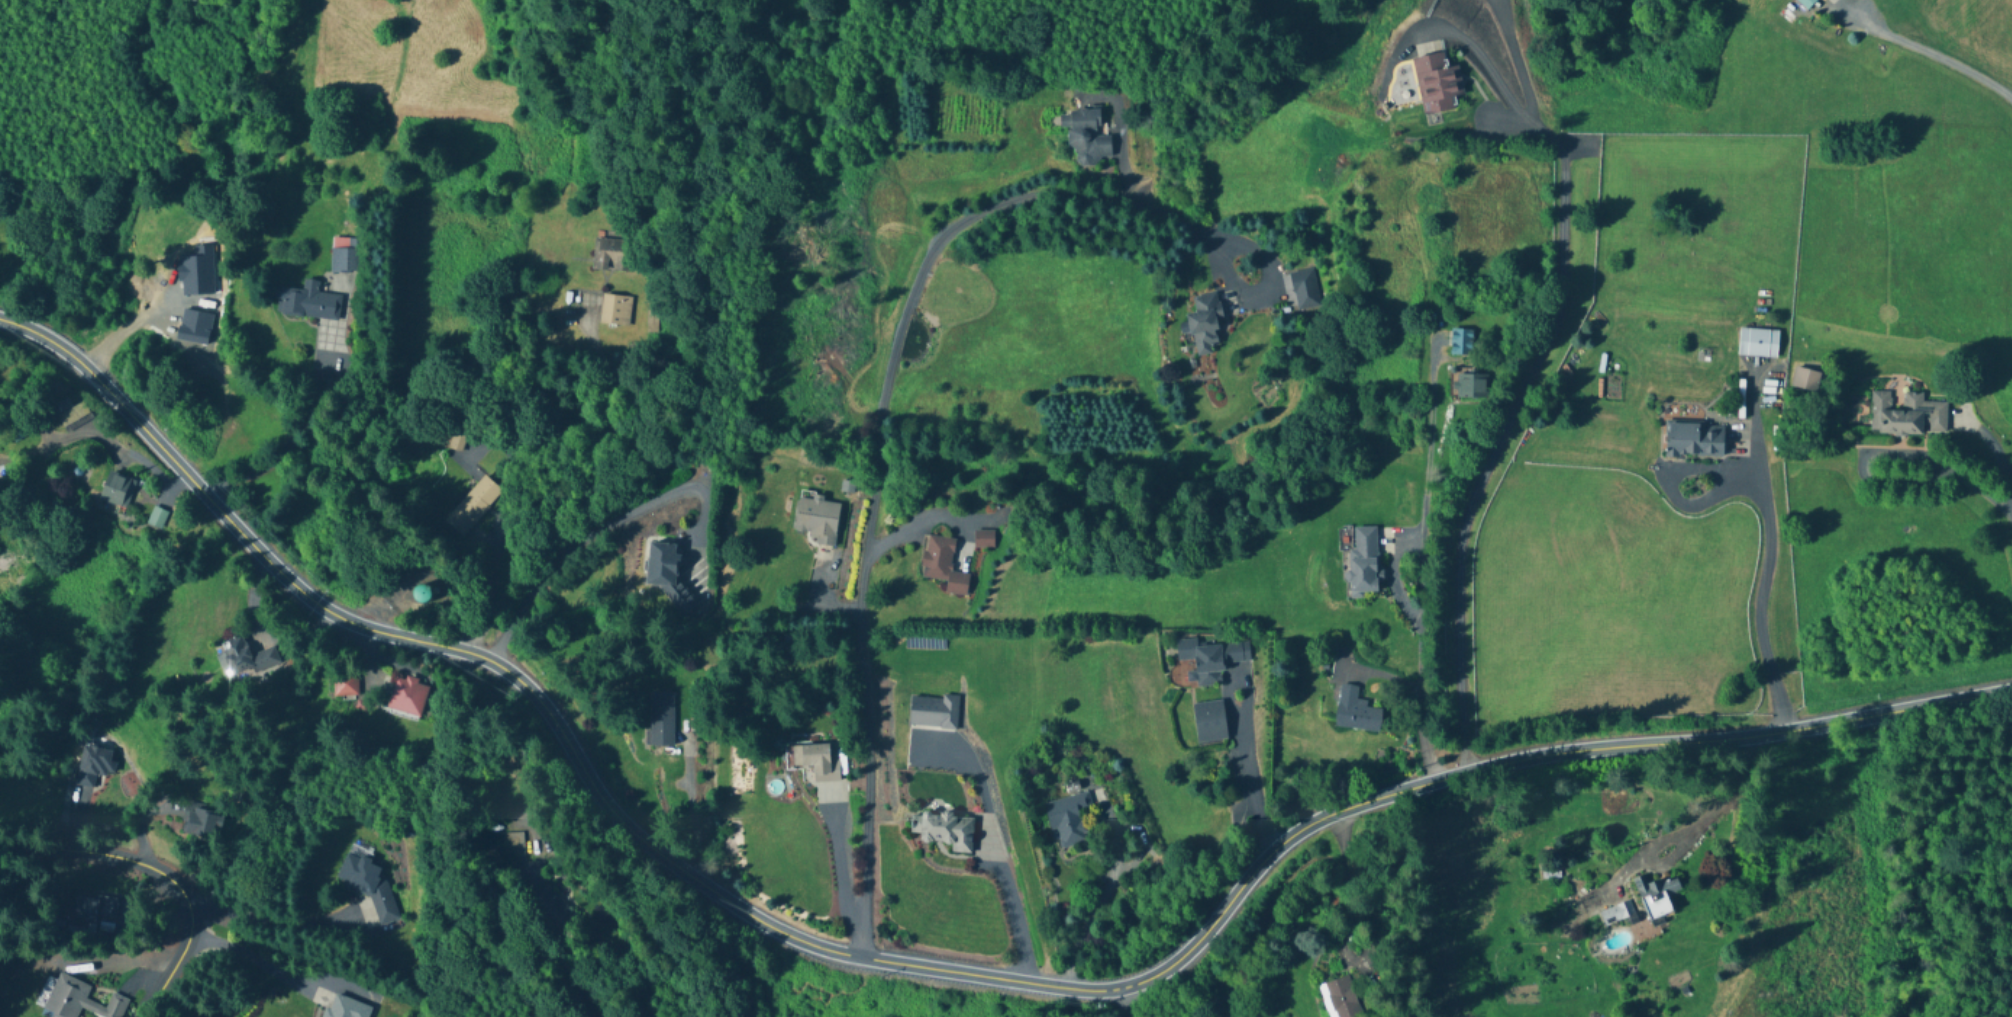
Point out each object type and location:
building: (1805, 2)
road: (1929, 53)
road: (1479, 66)
road: (1516, 70)
building: (1437, 82)
building: (1086, 135)
building: (346, 256)
building: (609, 256)
building: (1300, 290)
building: (307, 302)
building: (614, 310)
building: (1205, 324)
road: (122, 325)
building: (1461, 342)
building: (1757, 343)
building: (1805, 380)
building: (1470, 385)
building: (71, 414)
building: (1907, 415)
road: (1509, 419)
road: (293, 433)
building: (1694, 439)
road: (1998, 455)
road: (876, 459)
road: (1868, 465)
road: (1977, 488)
building: (116, 490)
building: (476, 501)
building: (157, 518)
building: (817, 520)
road: (606, 521)
road: (919, 525)
building: (983, 539)
building: (1364, 562)
building: (942, 564)
building: (666, 571)
road: (1422, 571)
road: (1760, 573)
building: (423, 594)
building: (246, 657)
building: (1211, 658)
building: (345, 686)
building: (408, 696)
building: (1356, 711)
building: (661, 719)
building: (1209, 721)
building: (813, 761)
building: (94, 766)
road: (1245, 782)
road: (1725, 798)
road: (689, 812)
building: (1068, 820)
building: (203, 822)
building: (944, 831)
road: (161, 873)
building: (369, 892)
building: (1656, 897)
building: (543, 898)
road: (1098, 902)
road: (1008, 906)
building: (88, 910)
building: (1616, 915)
road: (1348, 918)
road: (269, 919)
road: (253, 959)
road: (923, 970)
building: (68, 999)
building: (1340, 999)
road: (1124, 1003)
building: (345, 1008)

